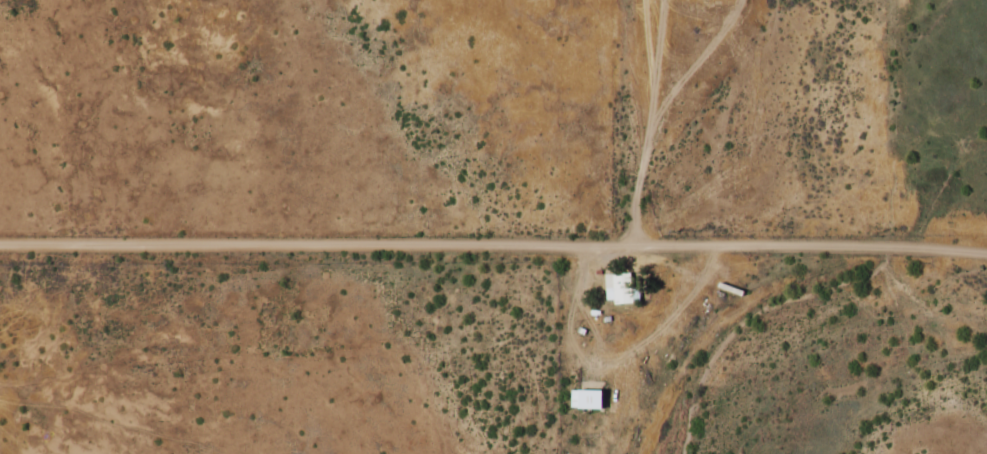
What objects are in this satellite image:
road: (493, 237)
building: (620, 281)
building: (586, 392)

